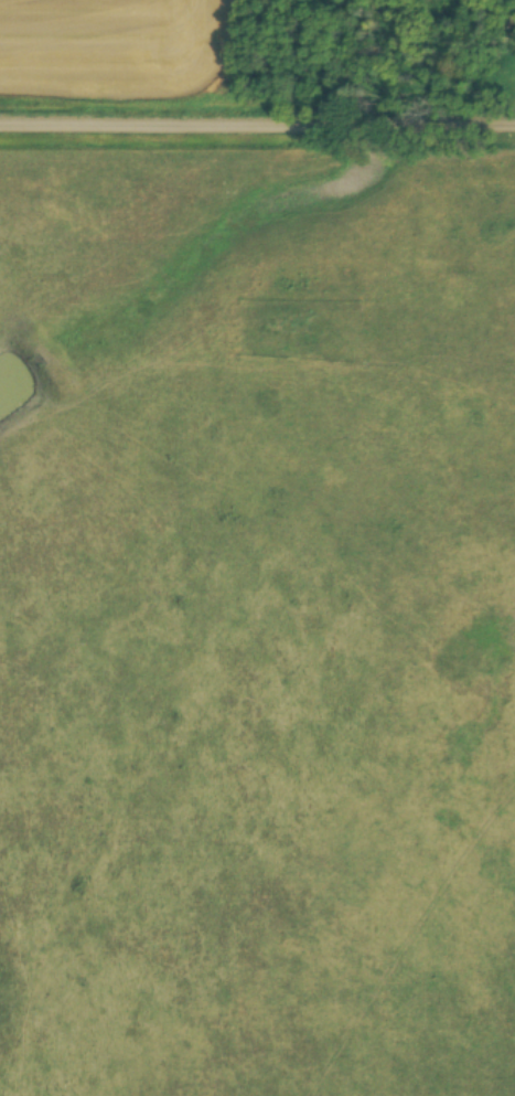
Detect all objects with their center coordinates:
road: (257, 127)

